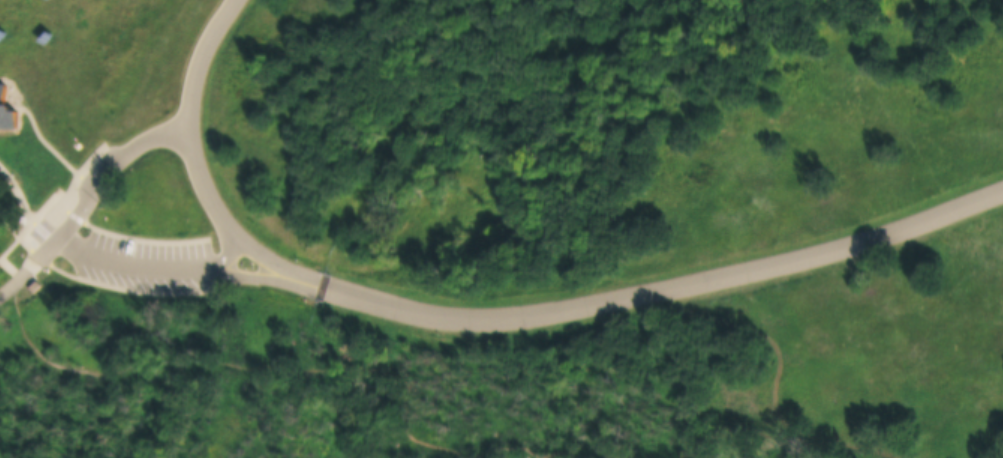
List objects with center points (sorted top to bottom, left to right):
road: (193, 58)
building: (7, 108)
road: (45, 139)
road: (94, 170)
road: (24, 200)
road: (15, 232)
road: (163, 260)
road: (16, 269)
road: (556, 307)

